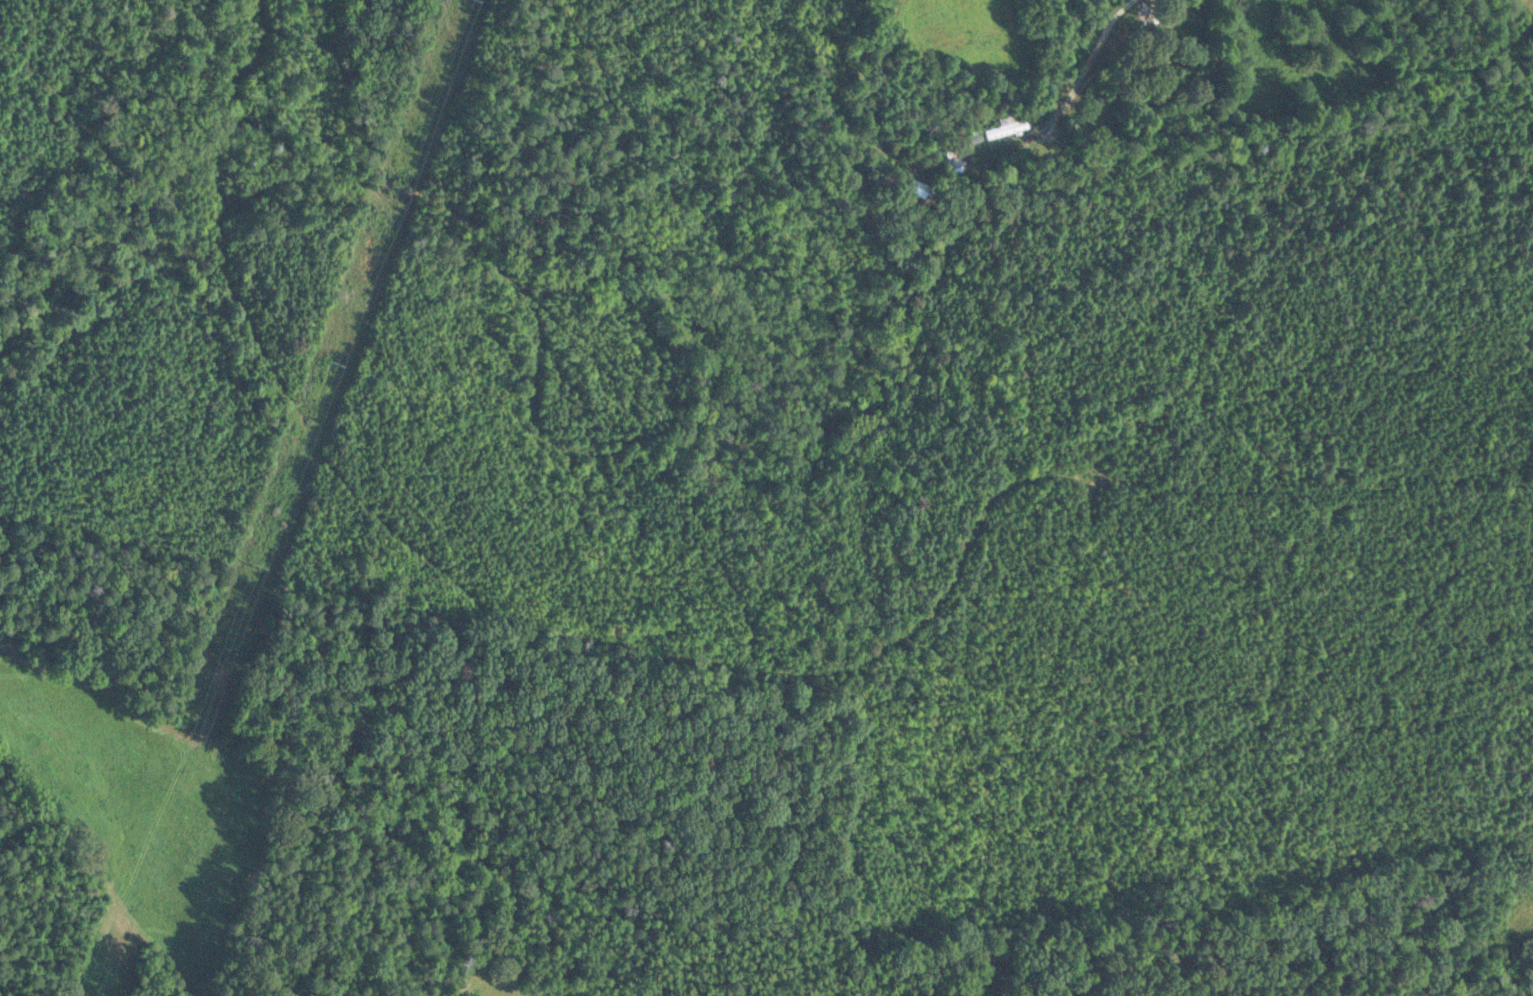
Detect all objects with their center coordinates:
road: (1086, 64)
building: (1006, 127)
building: (972, 136)

